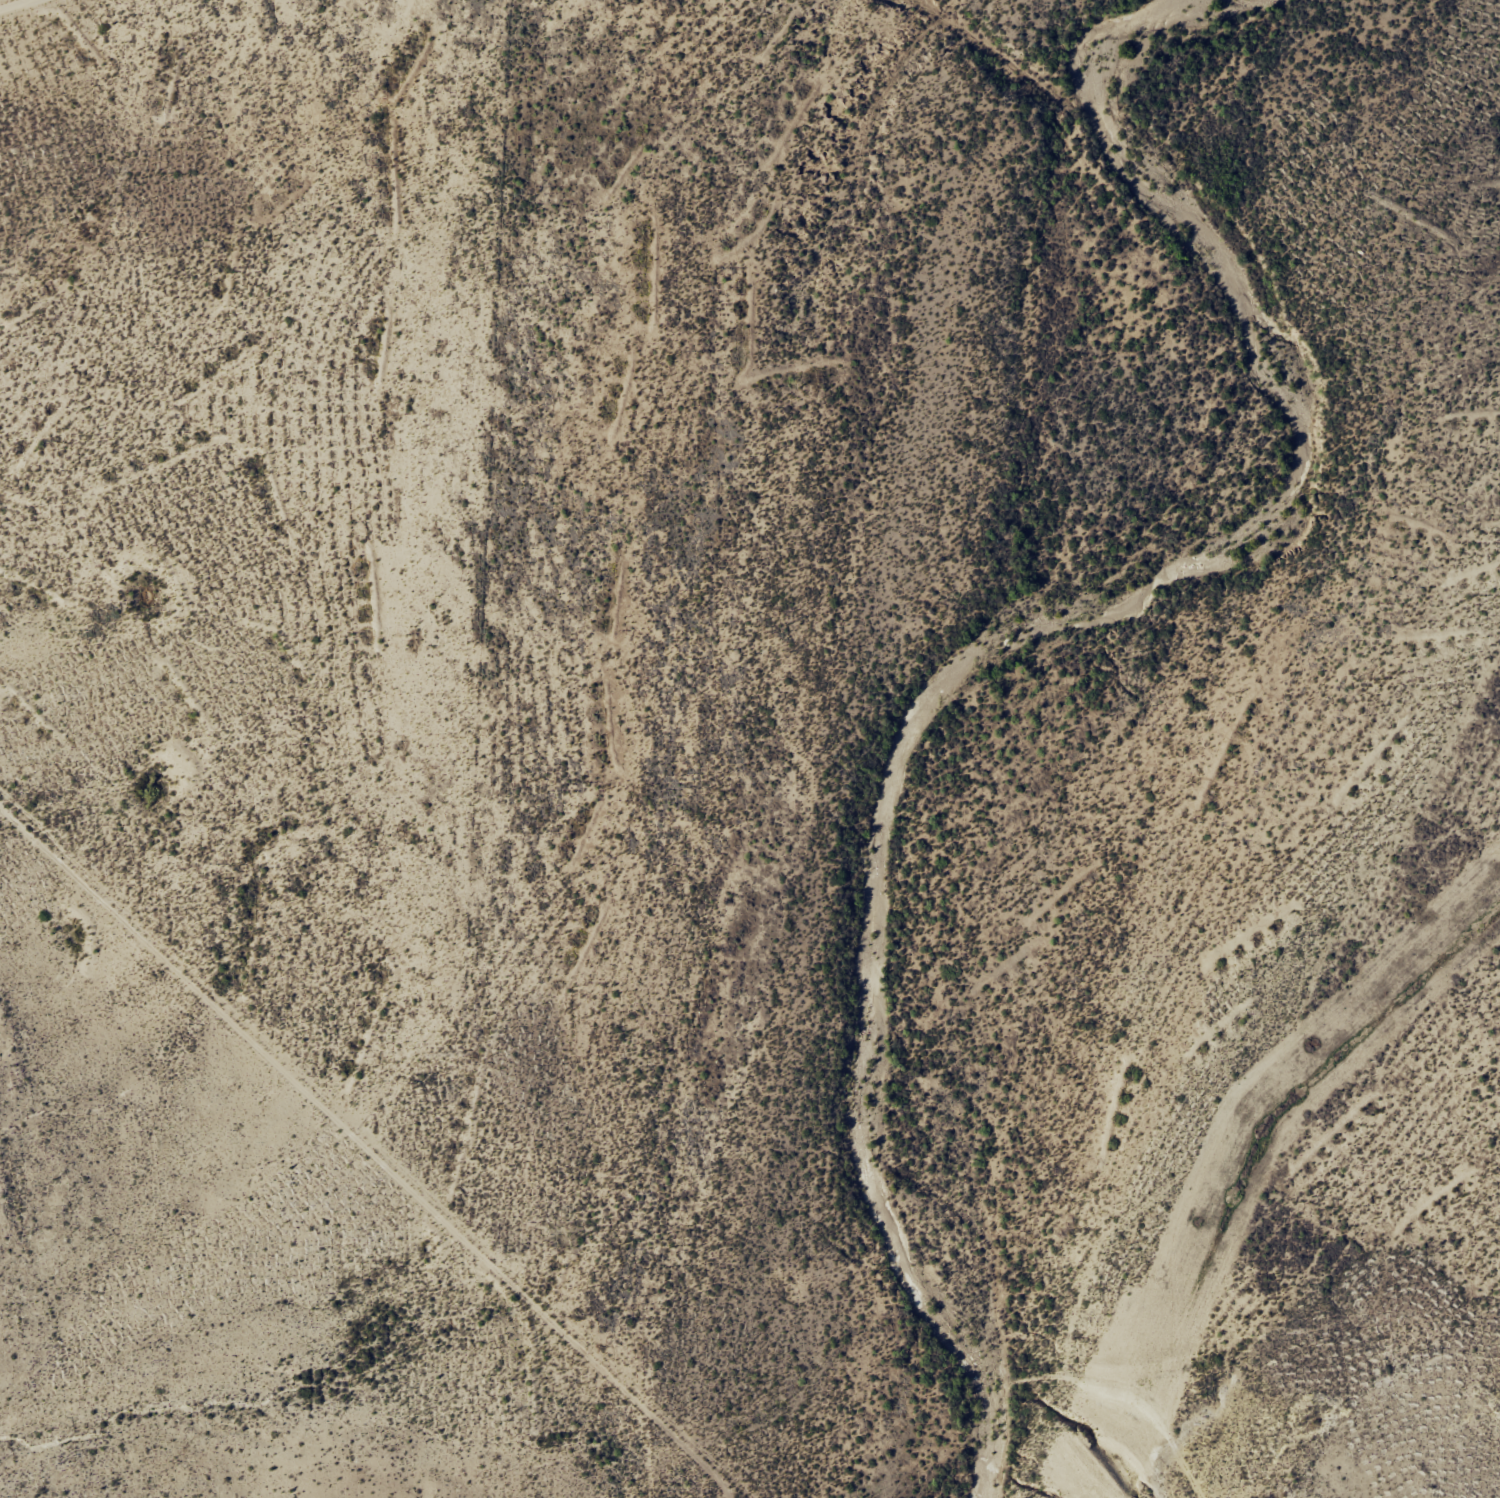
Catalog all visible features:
road: (44, 16)

